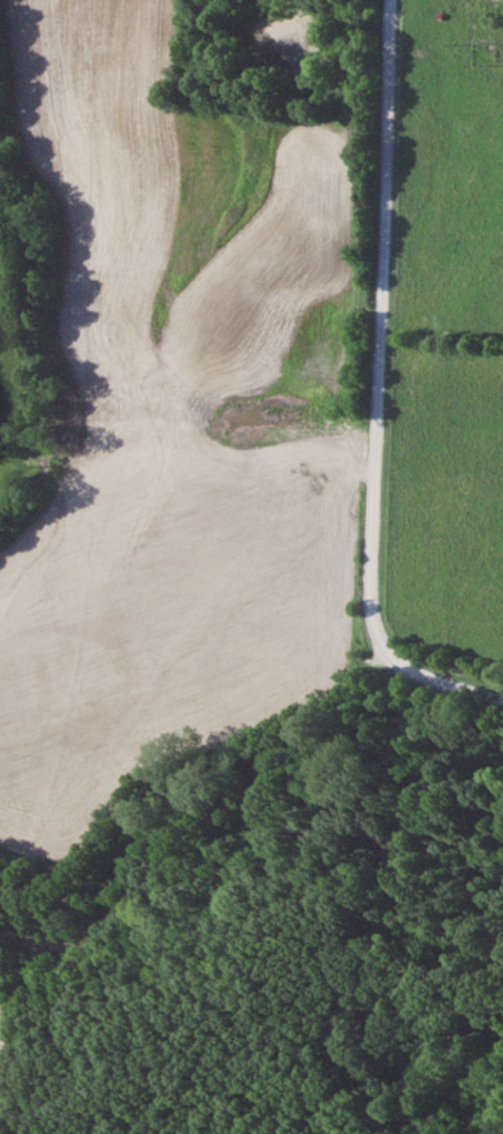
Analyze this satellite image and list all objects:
road: (378, 364)
road: (476, 694)

